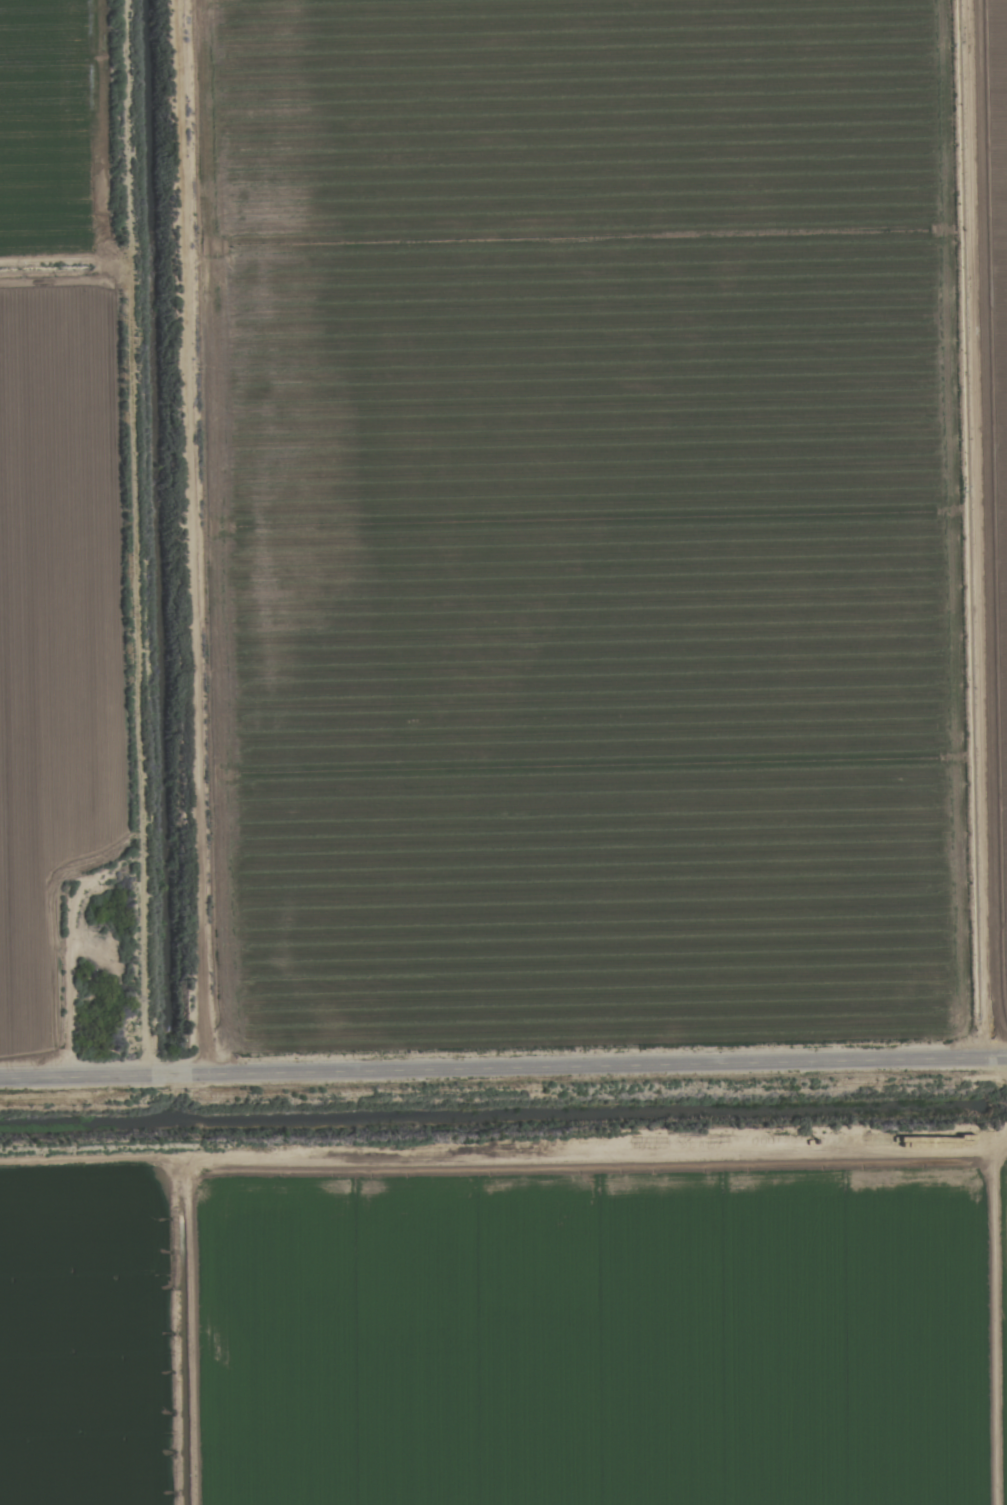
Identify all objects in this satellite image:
road: (503, 1081)

